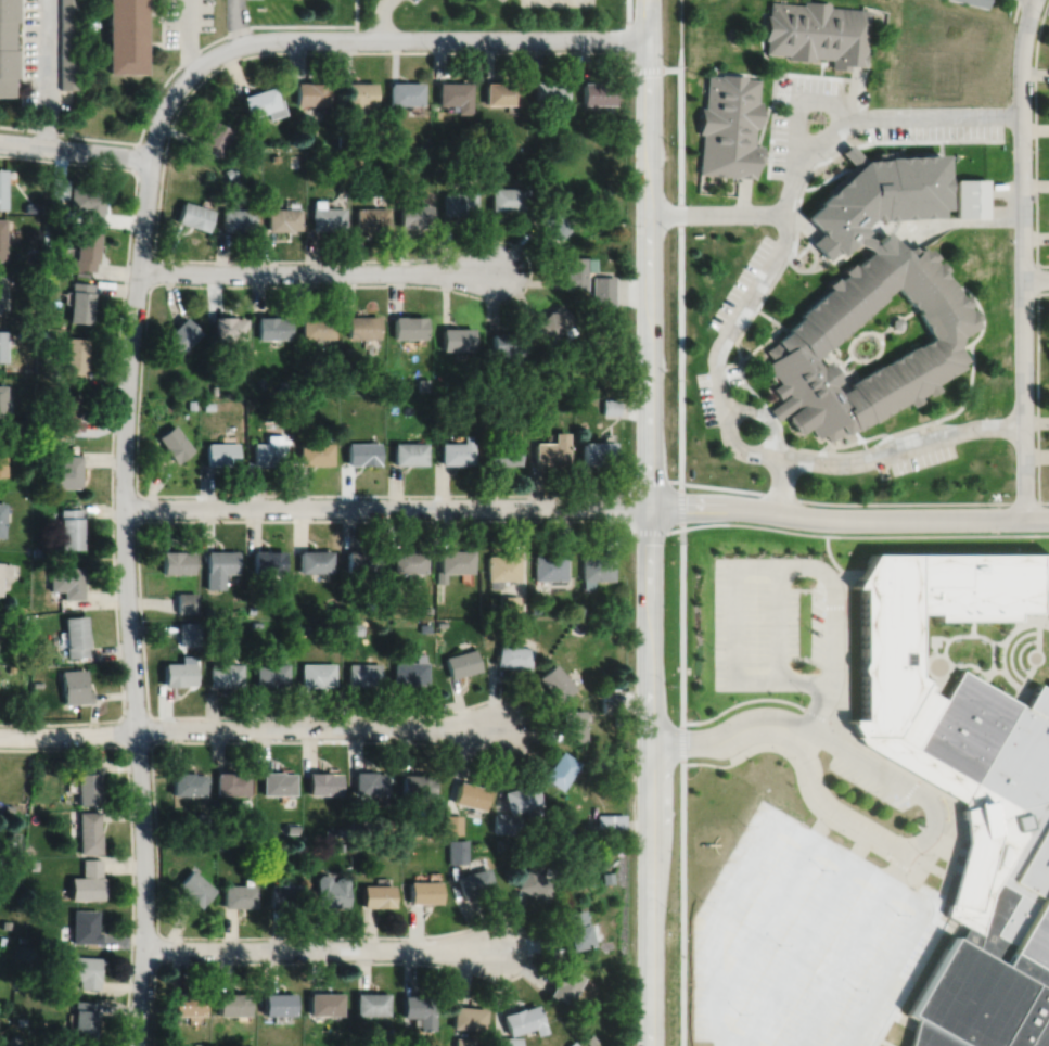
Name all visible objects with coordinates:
parking lot: (394, 1)
parking lot: (412, 1)
parking lot: (555, 2)
building: (976, 2)
road: (1015, 10)
road: (152, 11)
parking lot: (235, 13)
road: (381, 18)
parking lot: (186, 21)
road: (163, 23)
road: (233, 23)
building: (815, 31)
road: (229, 33)
building: (123, 35)
road: (187, 36)
road: (366, 39)
road: (760, 41)
road: (152, 42)
building: (66, 43)
building: (5, 46)
road: (678, 50)
parking lot: (42, 56)
road: (23, 63)
road: (820, 64)
road: (744, 72)
road: (47, 73)
road: (813, 74)
parking lot: (809, 84)
road: (852, 87)
building: (596, 91)
building: (310, 92)
building: (405, 92)
building: (502, 92)
building: (548, 92)
building: (455, 94)
building: (356, 97)
road: (797, 100)
building: (261, 102)
road: (772, 117)
building: (728, 125)
parking lot: (933, 129)
road: (68, 132)
building: (578, 136)
building: (213, 138)
road: (1035, 138)
building: (342, 139)
building: (472, 141)
parking lot: (780, 143)
building: (397, 146)
road: (75, 149)
road: (938, 152)
road: (764, 155)
building: (274, 157)
building: (316, 157)
building: (354, 157)
building: (396, 157)
building: (457, 160)
building: (293, 161)
building: (228, 171)
road: (824, 178)
road: (943, 180)
building: (2, 188)
road: (742, 195)
road: (797, 197)
building: (970, 197)
building: (506, 199)
building: (85, 202)
building: (457, 203)
building: (30, 207)
building: (57, 213)
road: (716, 213)
building: (412, 215)
building: (192, 216)
building: (324, 216)
building: (281, 218)
building: (370, 218)
building: (234, 219)
building: (551, 220)
road: (955, 220)
road: (785, 221)
road: (805, 227)
building: (2, 239)
building: (85, 248)
road: (802, 248)
road: (811, 250)
road: (1022, 257)
road: (810, 269)
road: (317, 271)
building: (574, 271)
road: (1035, 278)
road: (1037, 278)
parking lot: (742, 281)
road: (680, 286)
road: (523, 289)
building: (601, 290)
building: (0, 292)
road: (123, 293)
building: (868, 298)
building: (78, 302)
road: (908, 314)
road: (896, 315)
road: (981, 315)
road: (770, 317)
building: (551, 322)
building: (895, 322)
building: (361, 327)
building: (226, 328)
building: (270, 328)
building: (316, 328)
building: (408, 328)
road: (870, 330)
building: (43, 333)
building: (179, 335)
building: (455, 339)
park: (872, 340)
road: (760, 342)
building: (506, 344)
building: (1, 345)
building: (348, 349)
building: (73, 357)
road: (837, 366)
parking lot: (733, 373)
building: (305, 383)
building: (283, 384)
building: (422, 384)
building: (488, 386)
building: (212, 390)
road: (1037, 391)
parking lot: (706, 397)
building: (484, 400)
building: (1, 403)
building: (190, 404)
building: (207, 405)
building: (610, 407)
building: (539, 409)
building: (65, 411)
building: (282, 411)
road: (764, 413)
road: (771, 413)
building: (344, 425)
road: (892, 432)
road: (861, 438)
road: (836, 441)
road: (853, 441)
building: (171, 445)
building: (268, 451)
building: (551, 451)
building: (455, 452)
building: (314, 454)
building: (407, 454)
building: (501, 454)
building: (596, 454)
building: (219, 455)
building: (361, 455)
road: (878, 456)
building: (2, 458)
parking lot: (922, 458)
building: (64, 470)
road: (836, 502)
road: (586, 506)
building: (1, 514)
road: (650, 522)
road: (137, 523)
road: (654, 523)
building: (69, 526)
road: (937, 534)
building: (35, 550)
building: (175, 559)
building: (267, 559)
building: (315, 559)
building: (361, 559)
building: (409, 559)
road: (831, 559)
building: (453, 561)
building: (551, 564)
building: (218, 565)
building: (502, 565)
building: (597, 565)
building: (4, 567)
building: (66, 579)
building: (3, 581)
building: (183, 600)
building: (1048, 600)
road: (128, 601)
building: (510, 603)
building: (250, 608)
building: (380, 609)
building: (426, 609)
building: (580, 609)
building: (206, 610)
building: (22, 617)
building: (206, 621)
building: (255, 622)
building: (488, 622)
road: (778, 622)
building: (442, 623)
building: (619, 623)
parking lot: (777, 623)
road: (1019, 623)
road: (971, 624)
building: (351, 626)
building: (424, 626)
building: (303, 627)
road: (1037, 629)
building: (188, 632)
building: (75, 634)
road: (983, 635)
road: (939, 636)
road: (1034, 639)
road: (997, 640)
park: (985, 647)
road: (1009, 649)
road: (1018, 652)
building: (514, 654)
road: (919, 658)
building: (462, 661)
road: (1035, 663)
road: (973, 665)
building: (10, 667)
building: (410, 668)
building: (178, 669)
road: (1026, 669)
building: (270, 672)
building: (362, 672)
building: (223, 673)
building: (317, 673)
road: (941, 674)
road: (827, 679)
building: (557, 680)
building: (36, 683)
road: (936, 683)
road: (1013, 683)
building: (74, 685)
road: (1015, 693)
road: (121, 698)
building: (610, 703)
road: (818, 704)
road: (824, 717)
building: (617, 719)
building: (574, 724)
road: (316, 728)
road: (68, 734)
road: (150, 741)
building: (561, 768)
building: (276, 781)
building: (322, 781)
building: (369, 781)
building: (87, 782)
building: (186, 782)
building: (230, 782)
parking lot: (869, 782)
building: (417, 783)
road: (682, 783)
building: (967, 787)
building: (471, 794)
building: (523, 799)
building: (8, 806)
building: (200, 816)
building: (452, 822)
building: (504, 822)
building: (607, 825)
building: (359, 826)
building: (290, 827)
road: (947, 827)
building: (340, 830)
building: (89, 831)
road: (130, 831)
building: (567, 831)
road: (929, 831)
building: (13, 837)
road: (806, 837)
building: (619, 843)
building: (252, 844)
building: (405, 844)
building: (340, 845)
road: (951, 847)
road: (929, 850)
building: (457, 851)
road: (880, 851)
building: (33, 864)
road: (898, 864)
building: (606, 877)
building: (87, 880)
building: (474, 881)
building: (535, 883)
building: (192, 886)
building: (330, 891)
building: (424, 891)
building: (283, 894)
building: (238, 895)
building: (376, 895)
road: (765, 919)
building: (5, 923)
building: (85, 926)
road: (951, 926)
building: (576, 930)
road: (257, 936)
building: (2, 939)
building: (21, 939)
parking lot: (801, 941)
road: (321, 949)
road: (796, 954)
road: (841, 965)
building: (85, 970)
building: (17, 982)
building: (565, 985)
building: (186, 1004)
building: (231, 1004)
building: (278, 1004)
building: (324, 1004)
building: (371, 1004)
building: (420, 1009)
building: (470, 1018)
building: (21, 1020)
building: (524, 1020)
building: (84, 1021)
building: (387, 1033)
building: (14, 1039)
building: (590, 1039)
building: (463, 1041)
building: (508, 1042)
road: (885, 1042)
building: (573, 1044)

